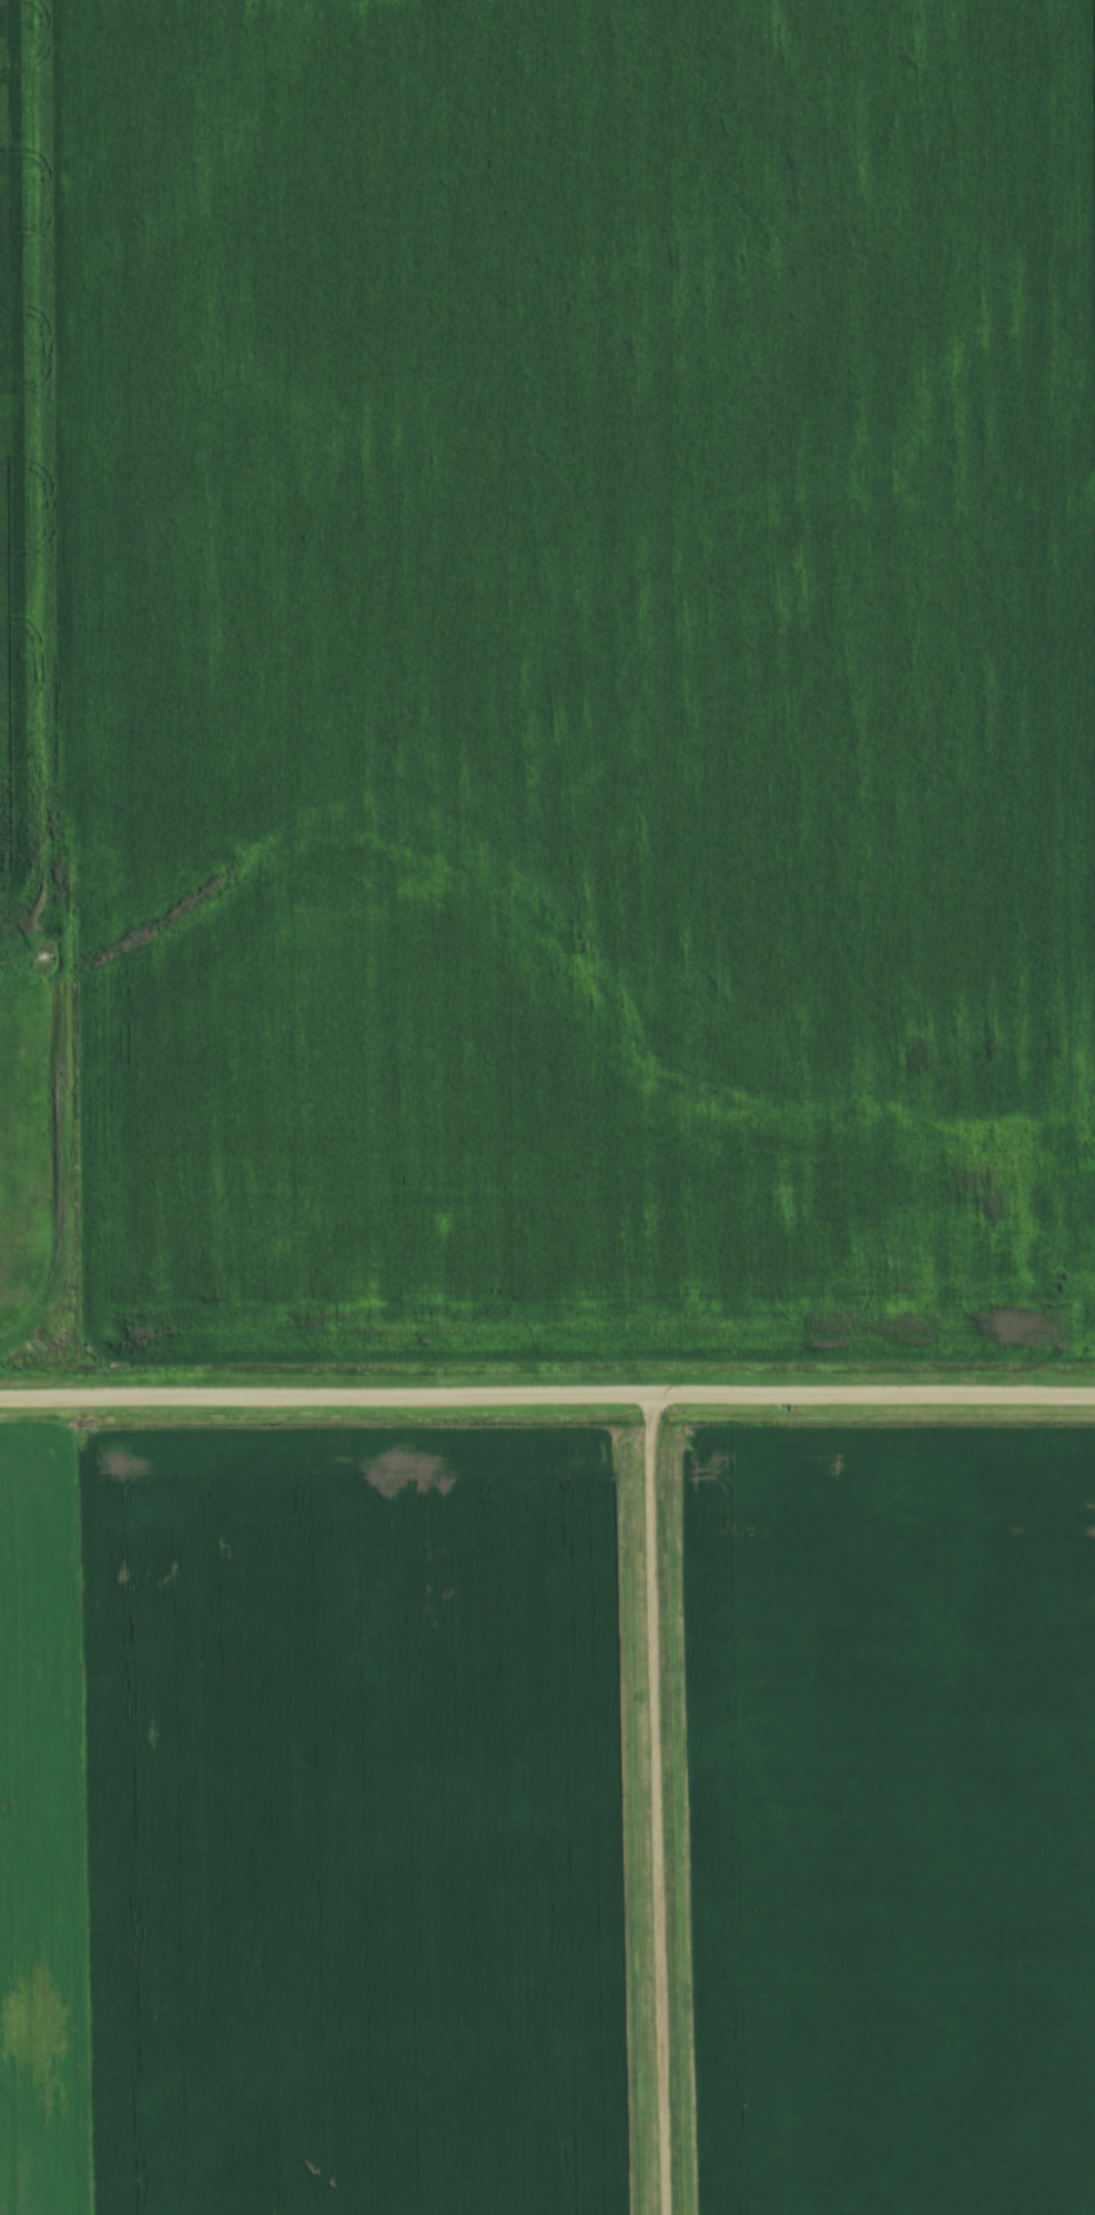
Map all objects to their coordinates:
road: (547, 1396)
road: (656, 1806)

